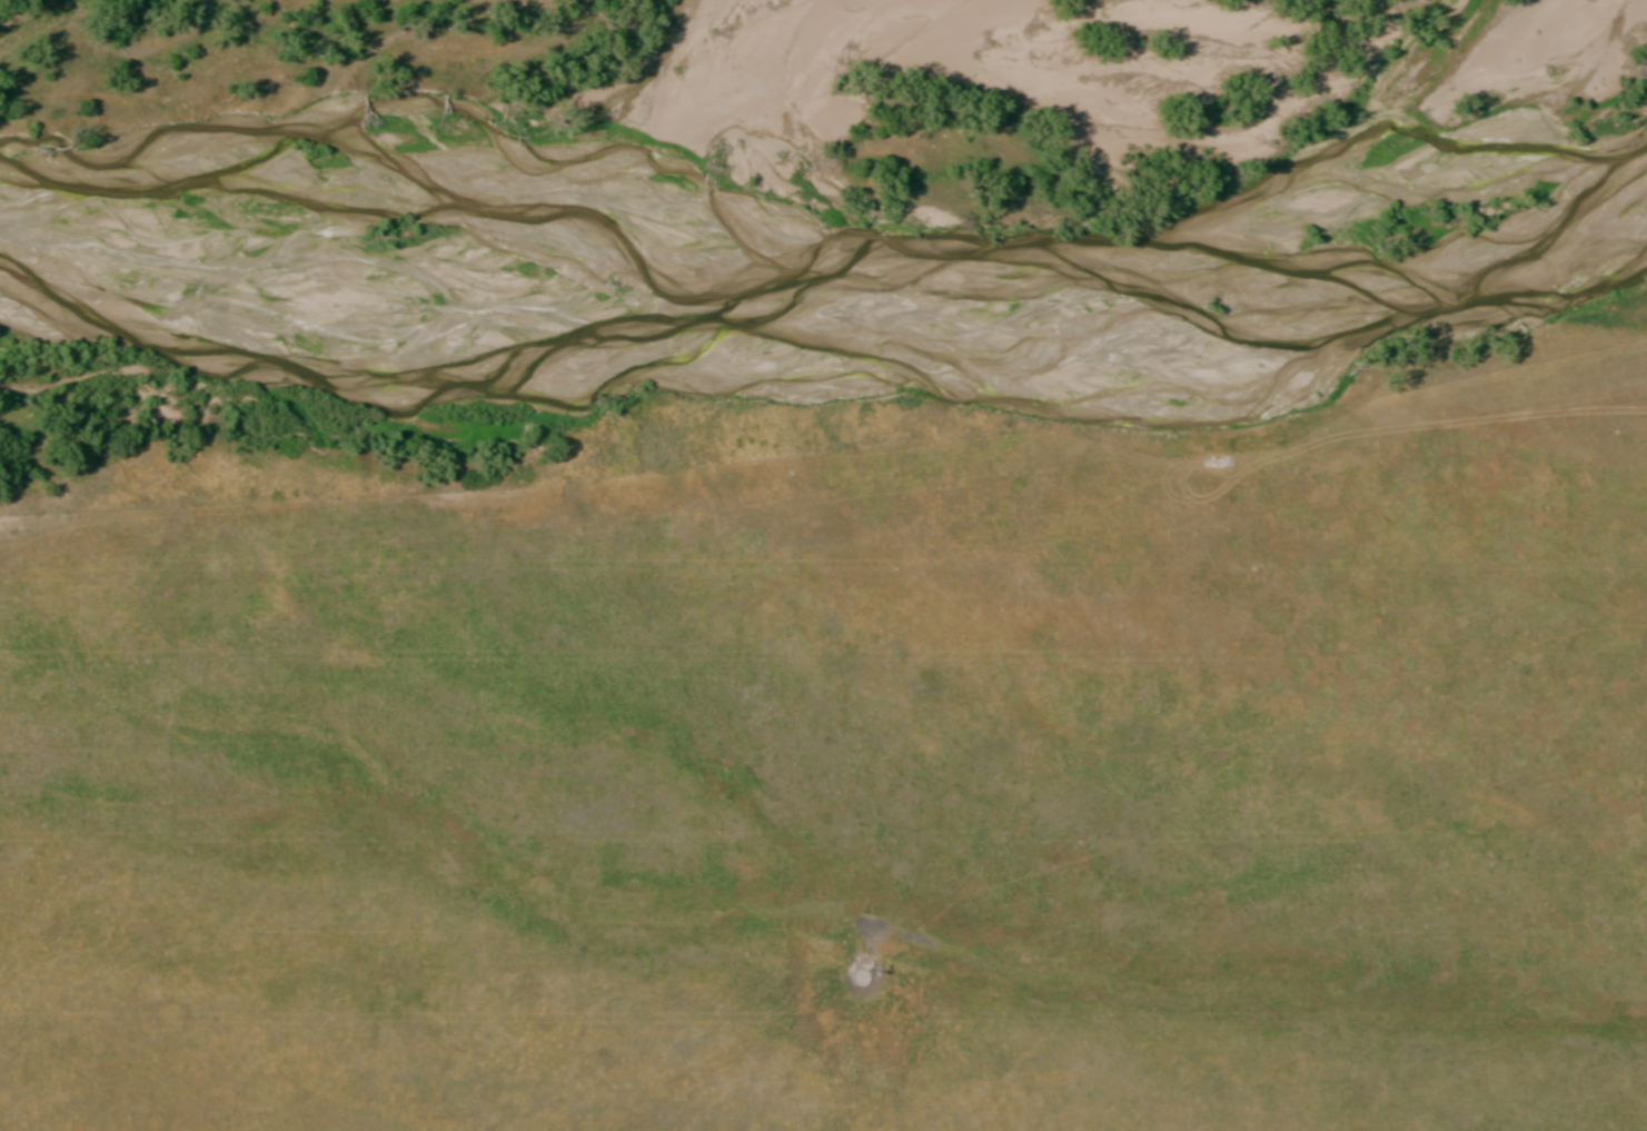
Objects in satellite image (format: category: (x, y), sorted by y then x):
river: (820, 302)

